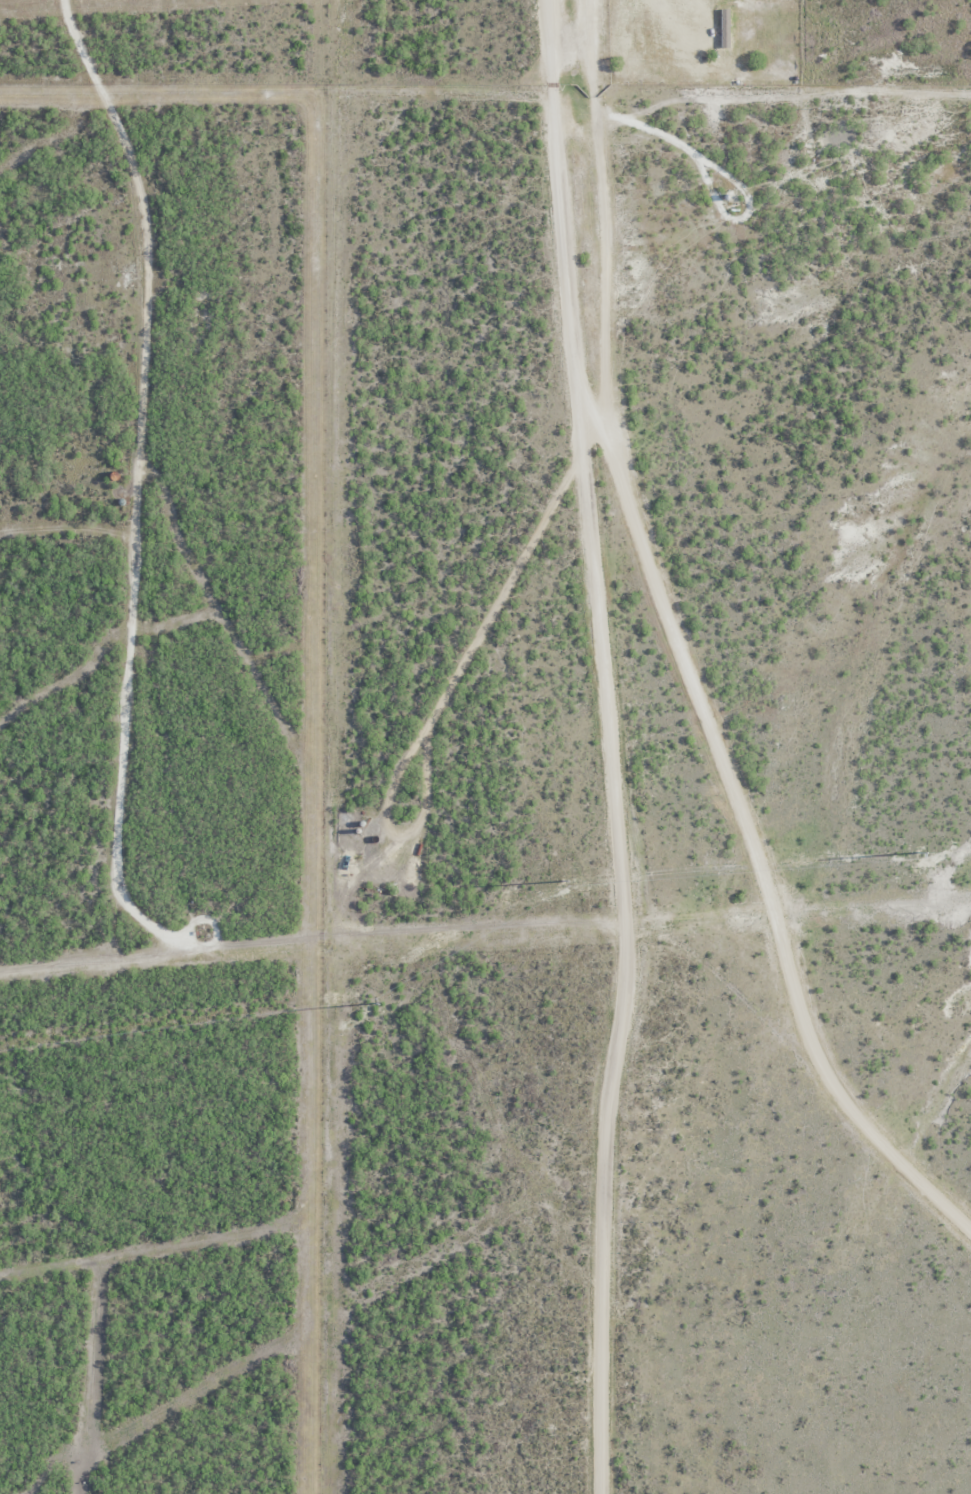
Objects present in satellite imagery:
building: (727, 29)
road: (156, 469)
road: (611, 747)
power tower: (920, 851)
power tower: (563, 880)
power tower: (382, 995)

